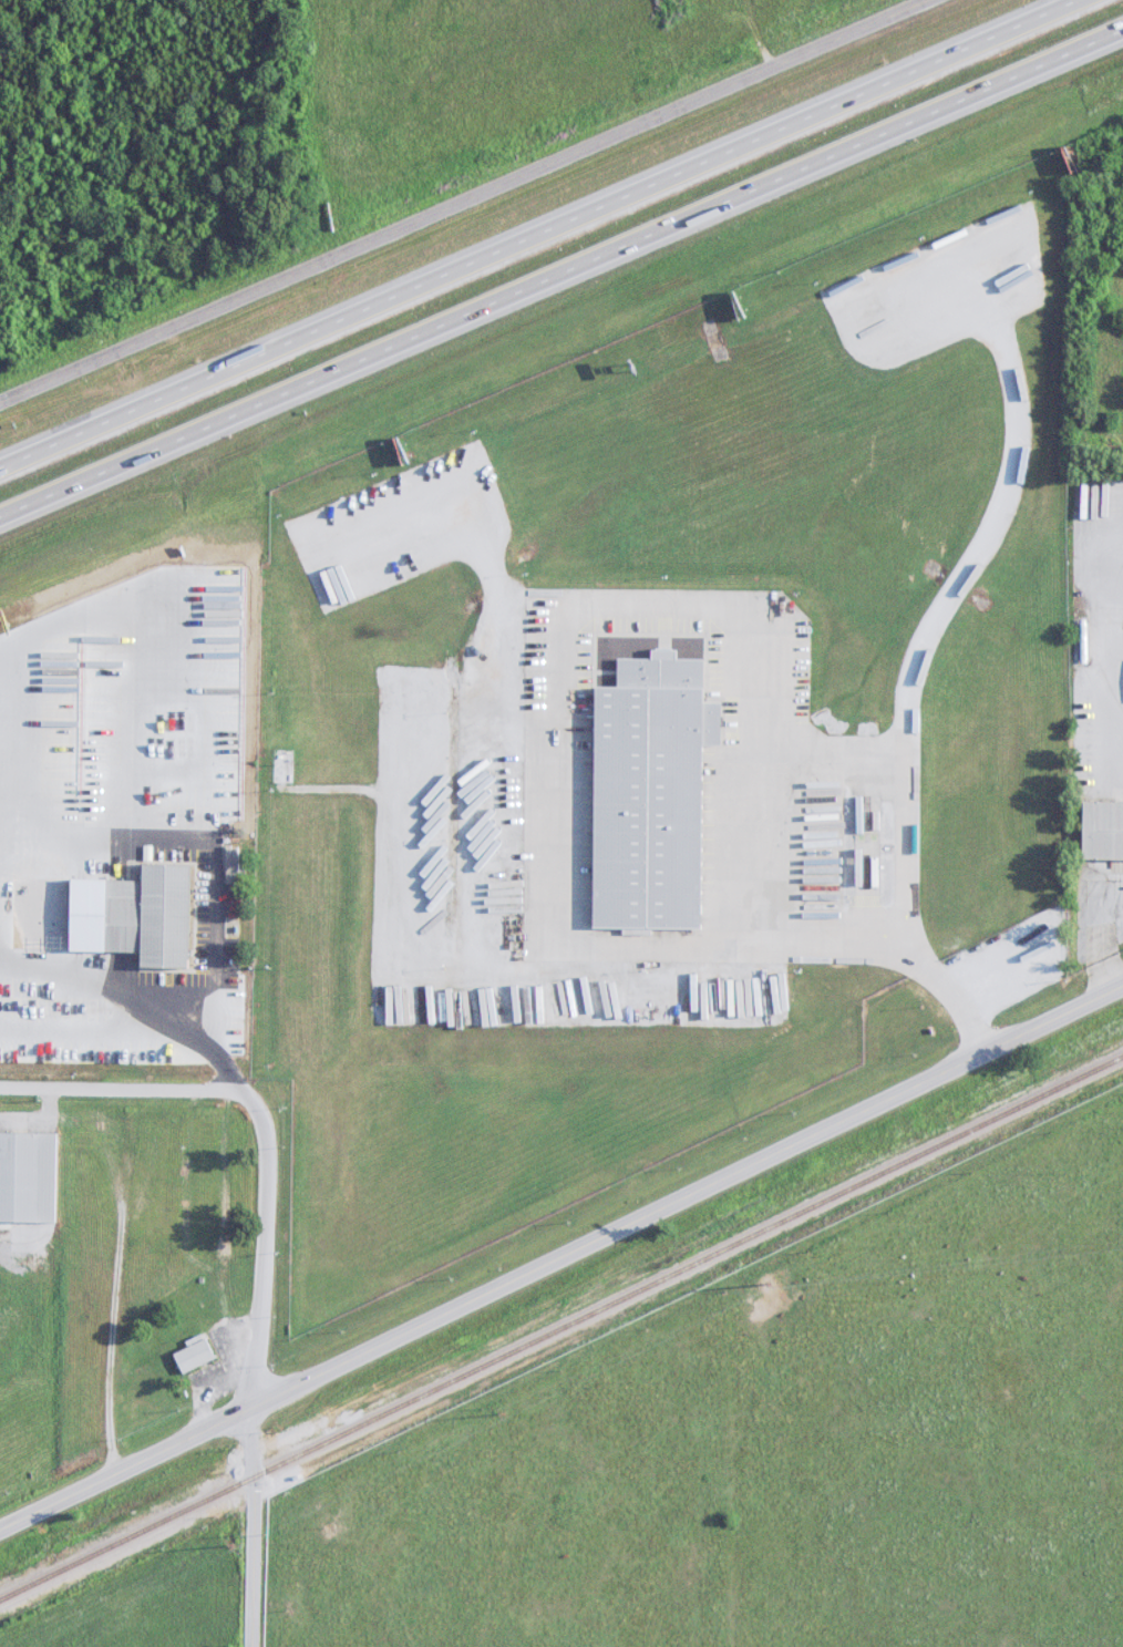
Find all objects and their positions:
crop: (474, 78)
road: (455, 198)
road: (554, 239)
road: (561, 287)
road: (1106, 649)
road: (548, 744)
building: (651, 794)
building: (1102, 831)
building: (151, 916)
road: (1110, 925)
road: (213, 1050)
building: (28, 1177)
road: (264, 1246)
road: (560, 1256)
railway: (561, 1328)
building: (194, 1357)

